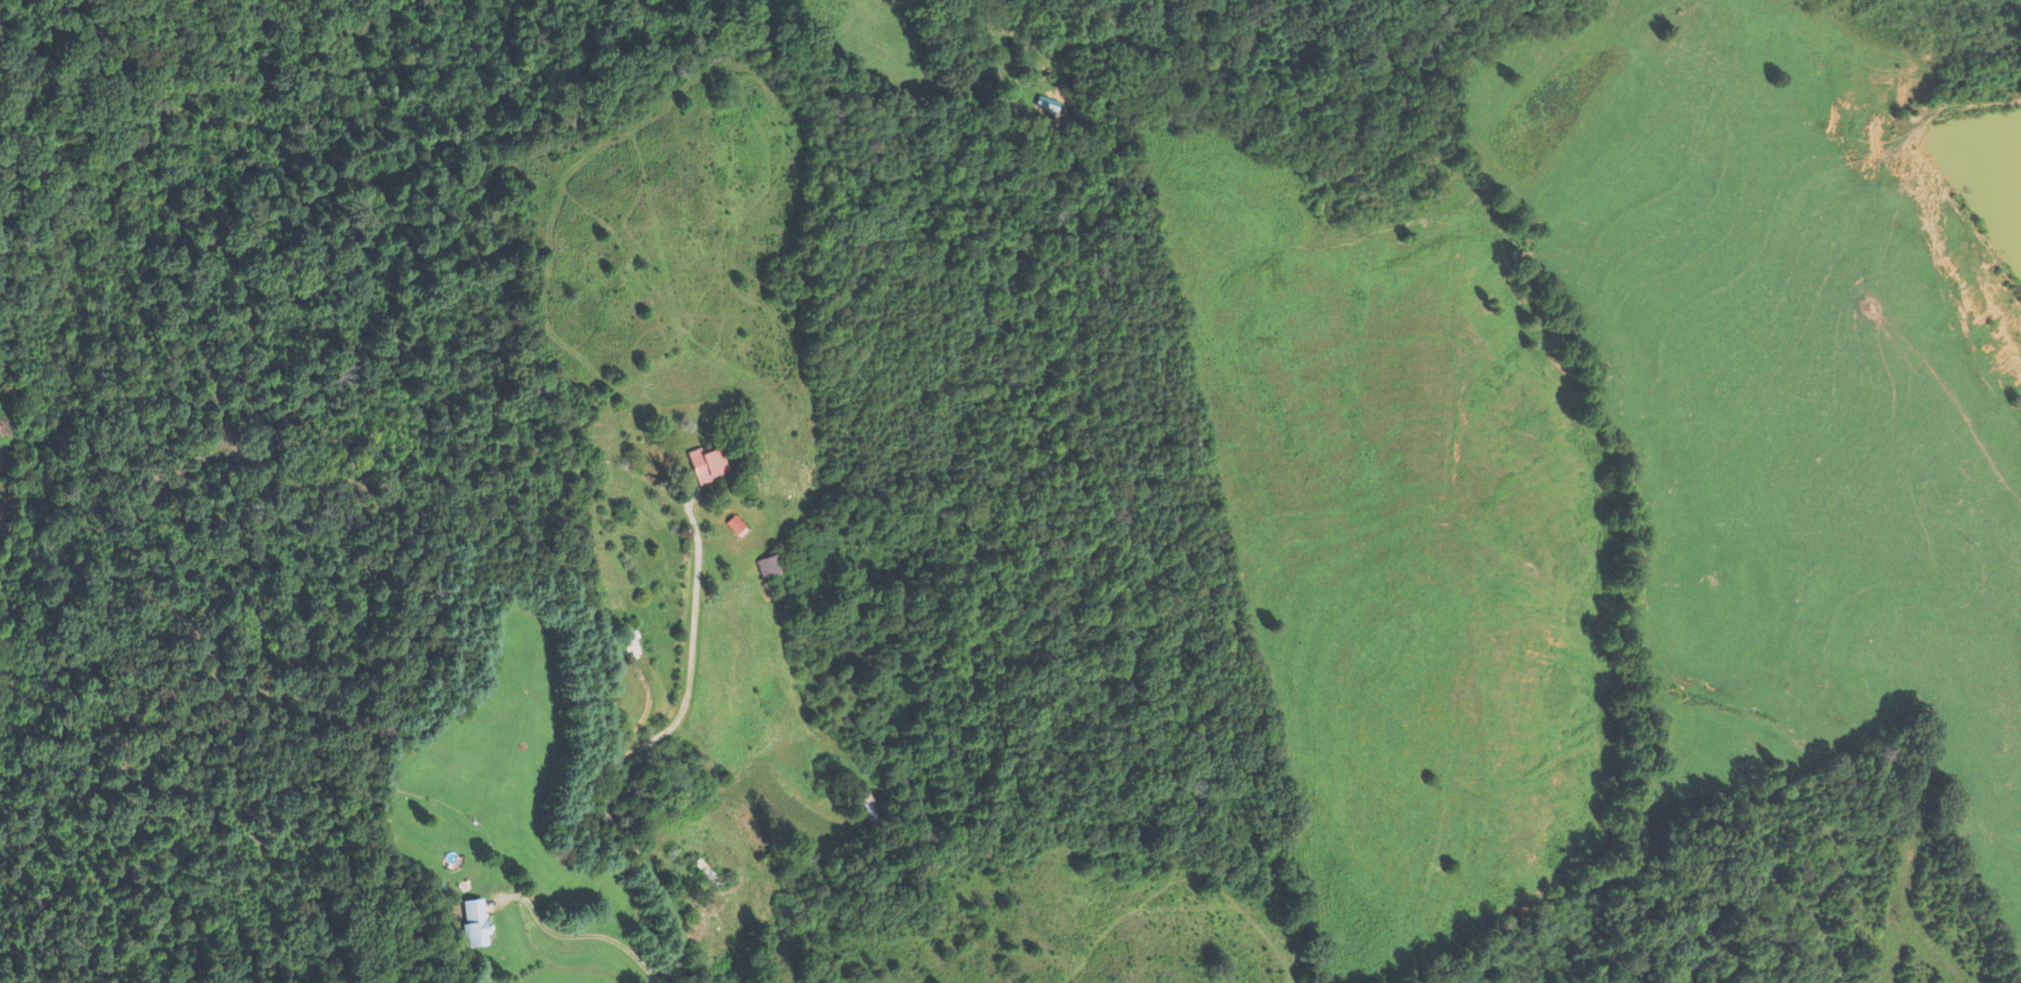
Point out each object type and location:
building: (1042, 109)
building: (706, 464)
building: (772, 565)
building: (631, 640)
road: (636, 745)
road: (745, 765)
building: (864, 806)
building: (707, 873)
building: (474, 922)
road: (1251, 929)
road: (581, 935)

